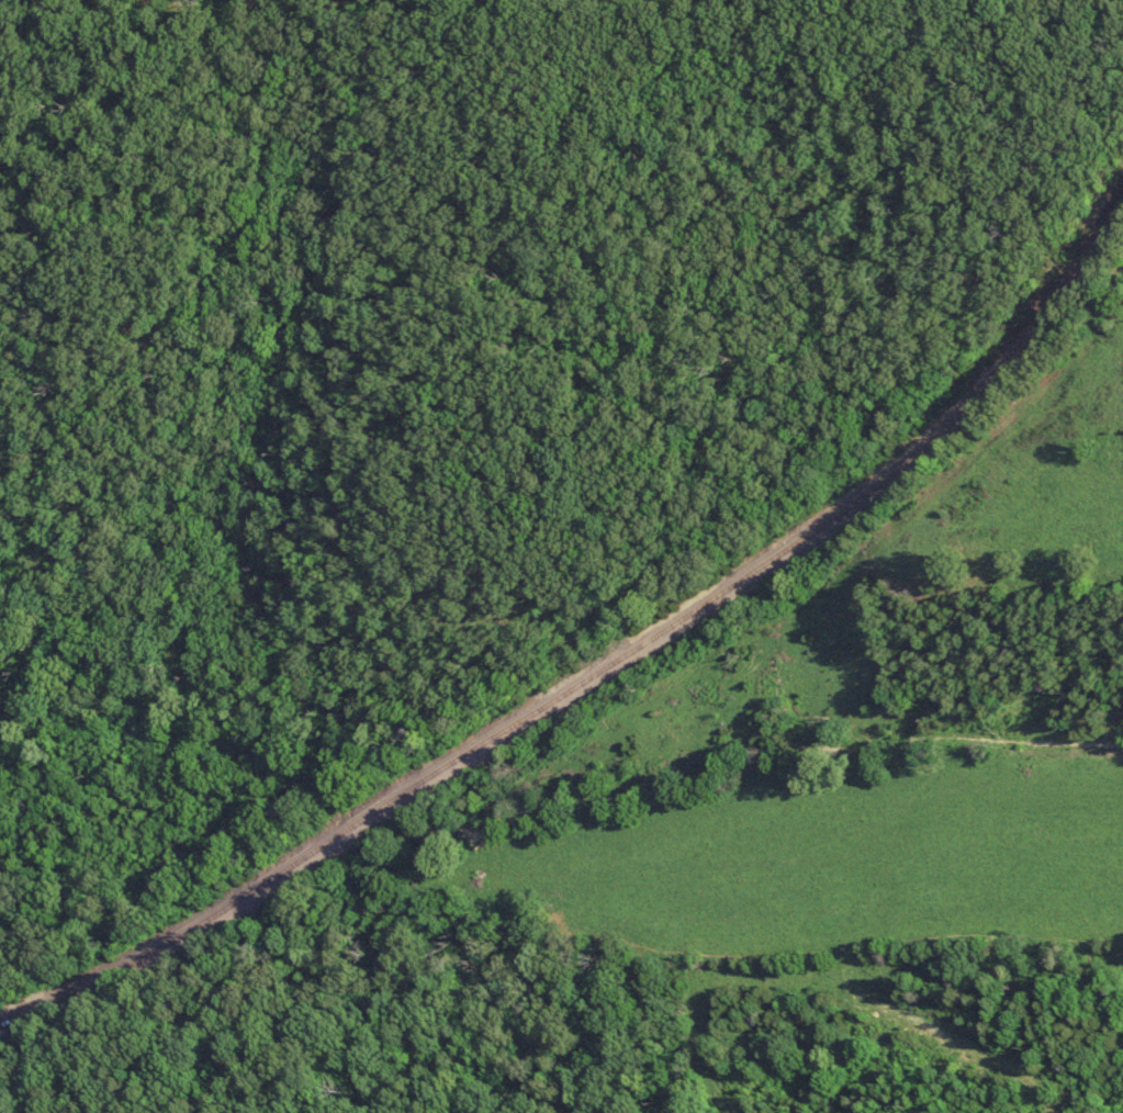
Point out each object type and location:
railway: (610, 668)

